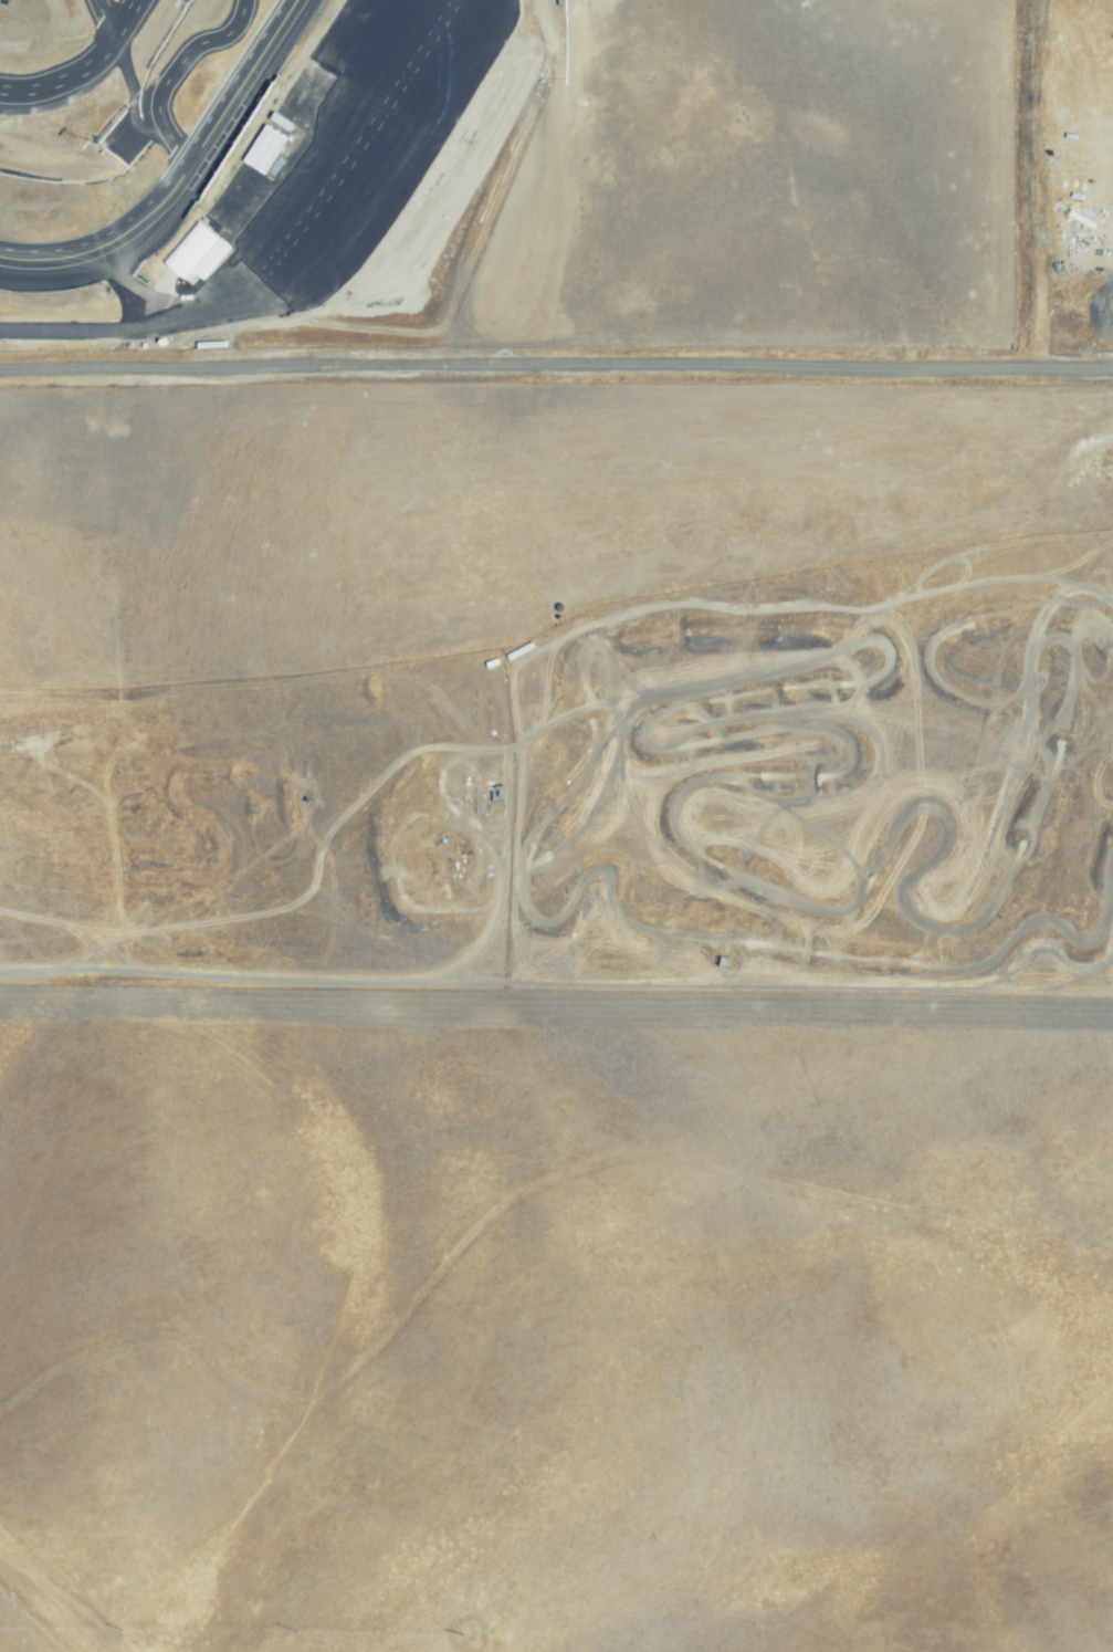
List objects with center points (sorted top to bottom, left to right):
road: (411, 0)
raceway: (99, 20)
raceway: (81, 69)
raceway: (171, 70)
parking lot: (387, 176)
raceway: (174, 177)
raceway: (195, 197)
road: (379, 212)
road: (249, 239)
building: (195, 251)

